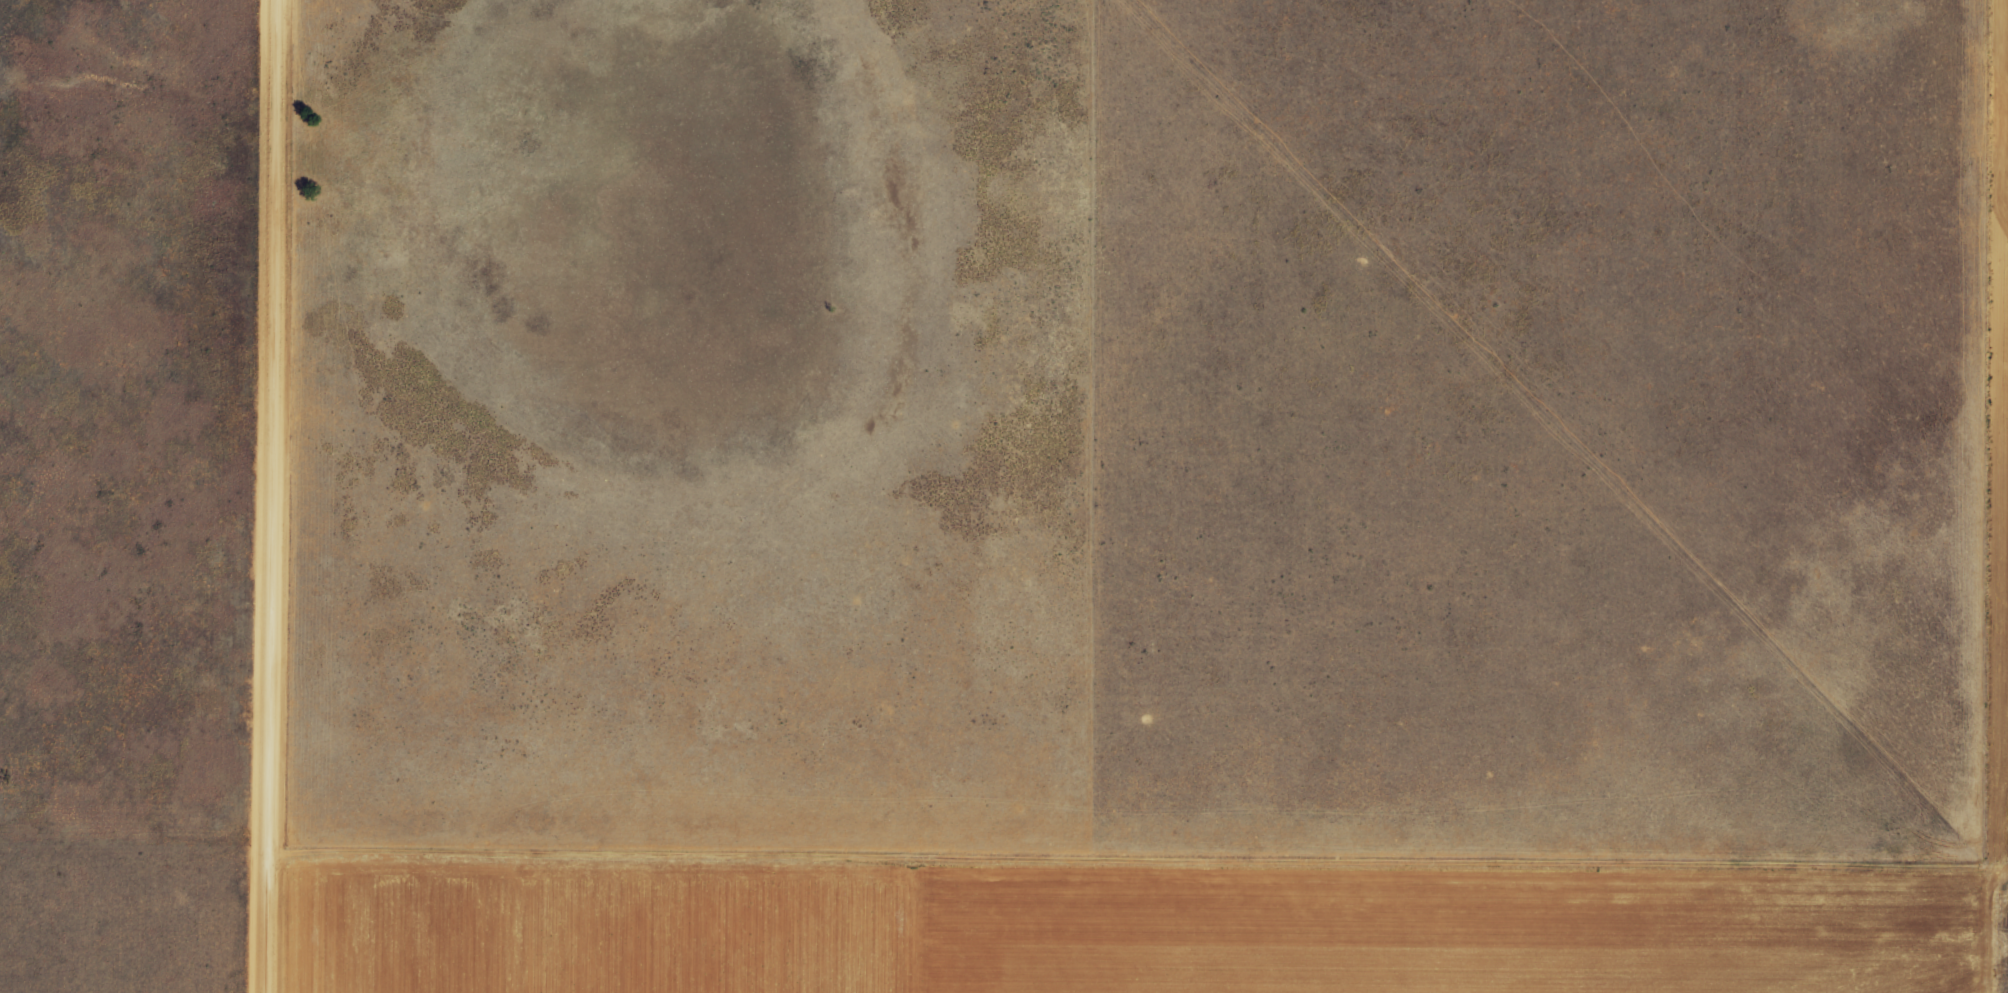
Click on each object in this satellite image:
road: (307, 496)
road: (1055, 851)

